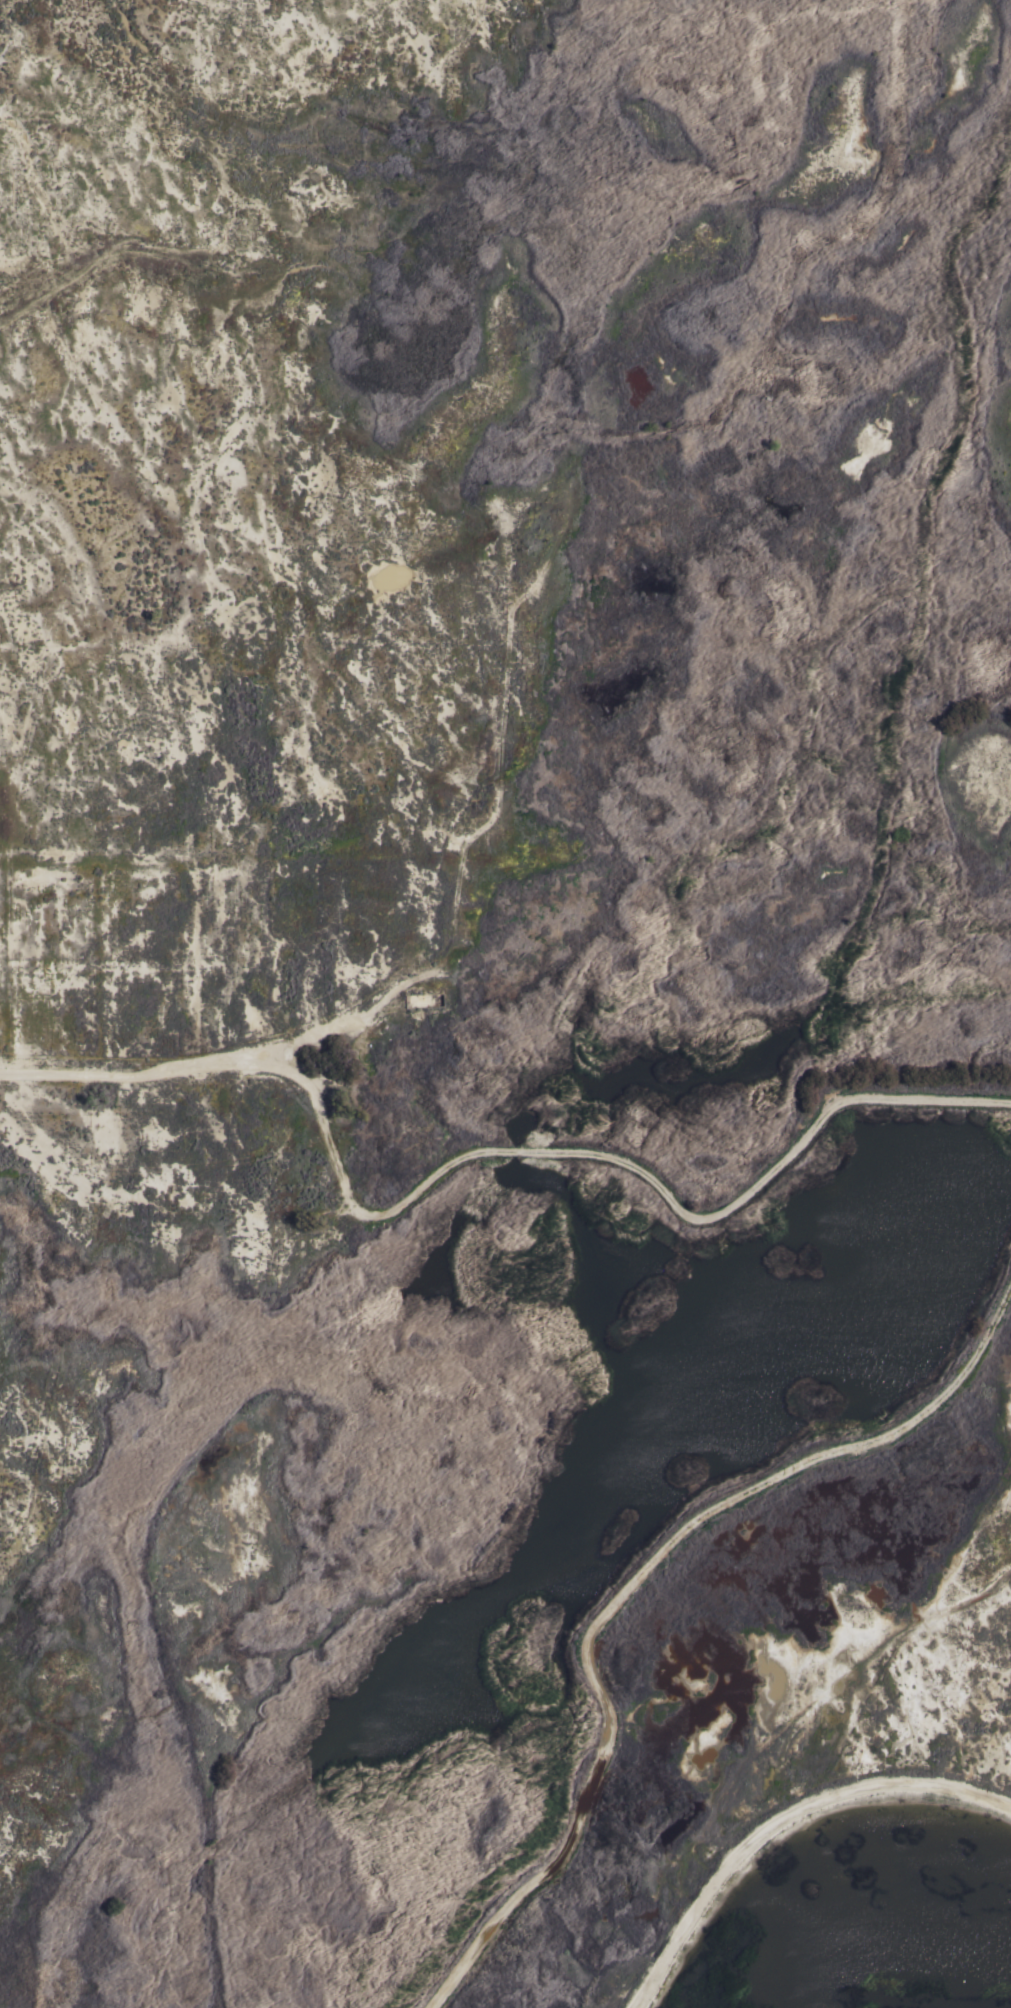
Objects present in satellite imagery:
road: (779, 1818)

